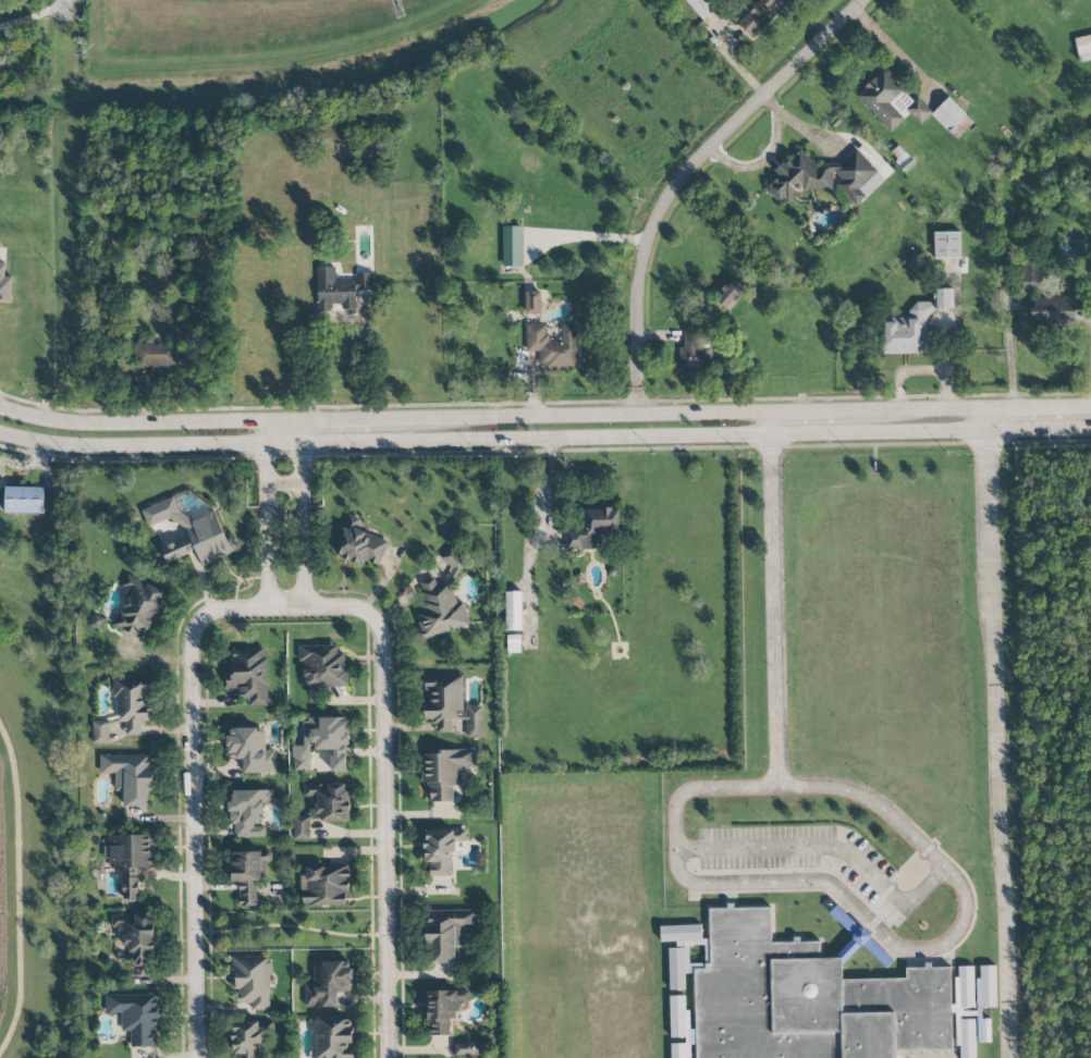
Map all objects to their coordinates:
road: (64, 3)
building: (701, 7)
road: (33, 15)
building: (760, 15)
building: (1083, 48)
road: (892, 49)
building: (5, 60)
building: (891, 102)
building: (952, 118)
building: (369, 155)
building: (825, 177)
road: (685, 179)
road: (589, 236)
building: (947, 245)
building: (511, 246)
building: (4, 283)
building: (342, 290)
building: (730, 295)
building: (1047, 299)
building: (532, 303)
building: (912, 325)
building: (553, 345)
road: (1007, 345)
building: (694, 353)
building: (156, 355)
road: (367, 361)
road: (543, 403)
road: (1023, 405)
road: (1078, 405)
road: (908, 408)
road: (800, 410)
road: (568, 416)
road: (983, 418)
road: (335, 419)
road: (149, 420)
road: (768, 422)
road: (821, 432)
road: (274, 441)
road: (544, 451)
road: (265, 459)
road: (301, 459)
road: (283, 485)
road: (548, 490)
building: (24, 500)
building: (593, 529)
building: (191, 533)
building: (359, 543)
road: (266, 552)
road: (302, 552)
building: (455, 558)
building: (138, 607)
building: (439, 607)
building: (513, 611)
road: (772, 611)
building: (322, 665)
building: (248, 674)
building: (443, 700)
building: (133, 703)
building: (474, 722)
building: (100, 731)
building: (322, 742)
road: (995, 743)
building: (250, 750)
building: (445, 771)
building: (130, 775)
road: (387, 780)
road: (191, 801)
building: (322, 807)
building: (248, 812)
road: (830, 846)
building: (441, 849)
building: (131, 851)
building: (247, 874)
building: (324, 885)
building: (130, 888)
road: (867, 915)
road: (294, 926)
building: (448, 932)
building: (137, 938)
building: (252, 981)
building: (329, 984)
building: (964, 989)
building: (805, 996)
building: (443, 1009)
building: (135, 1017)
building: (250, 1037)
building: (332, 1038)
building: (966, 1038)
building: (467, 1049)

